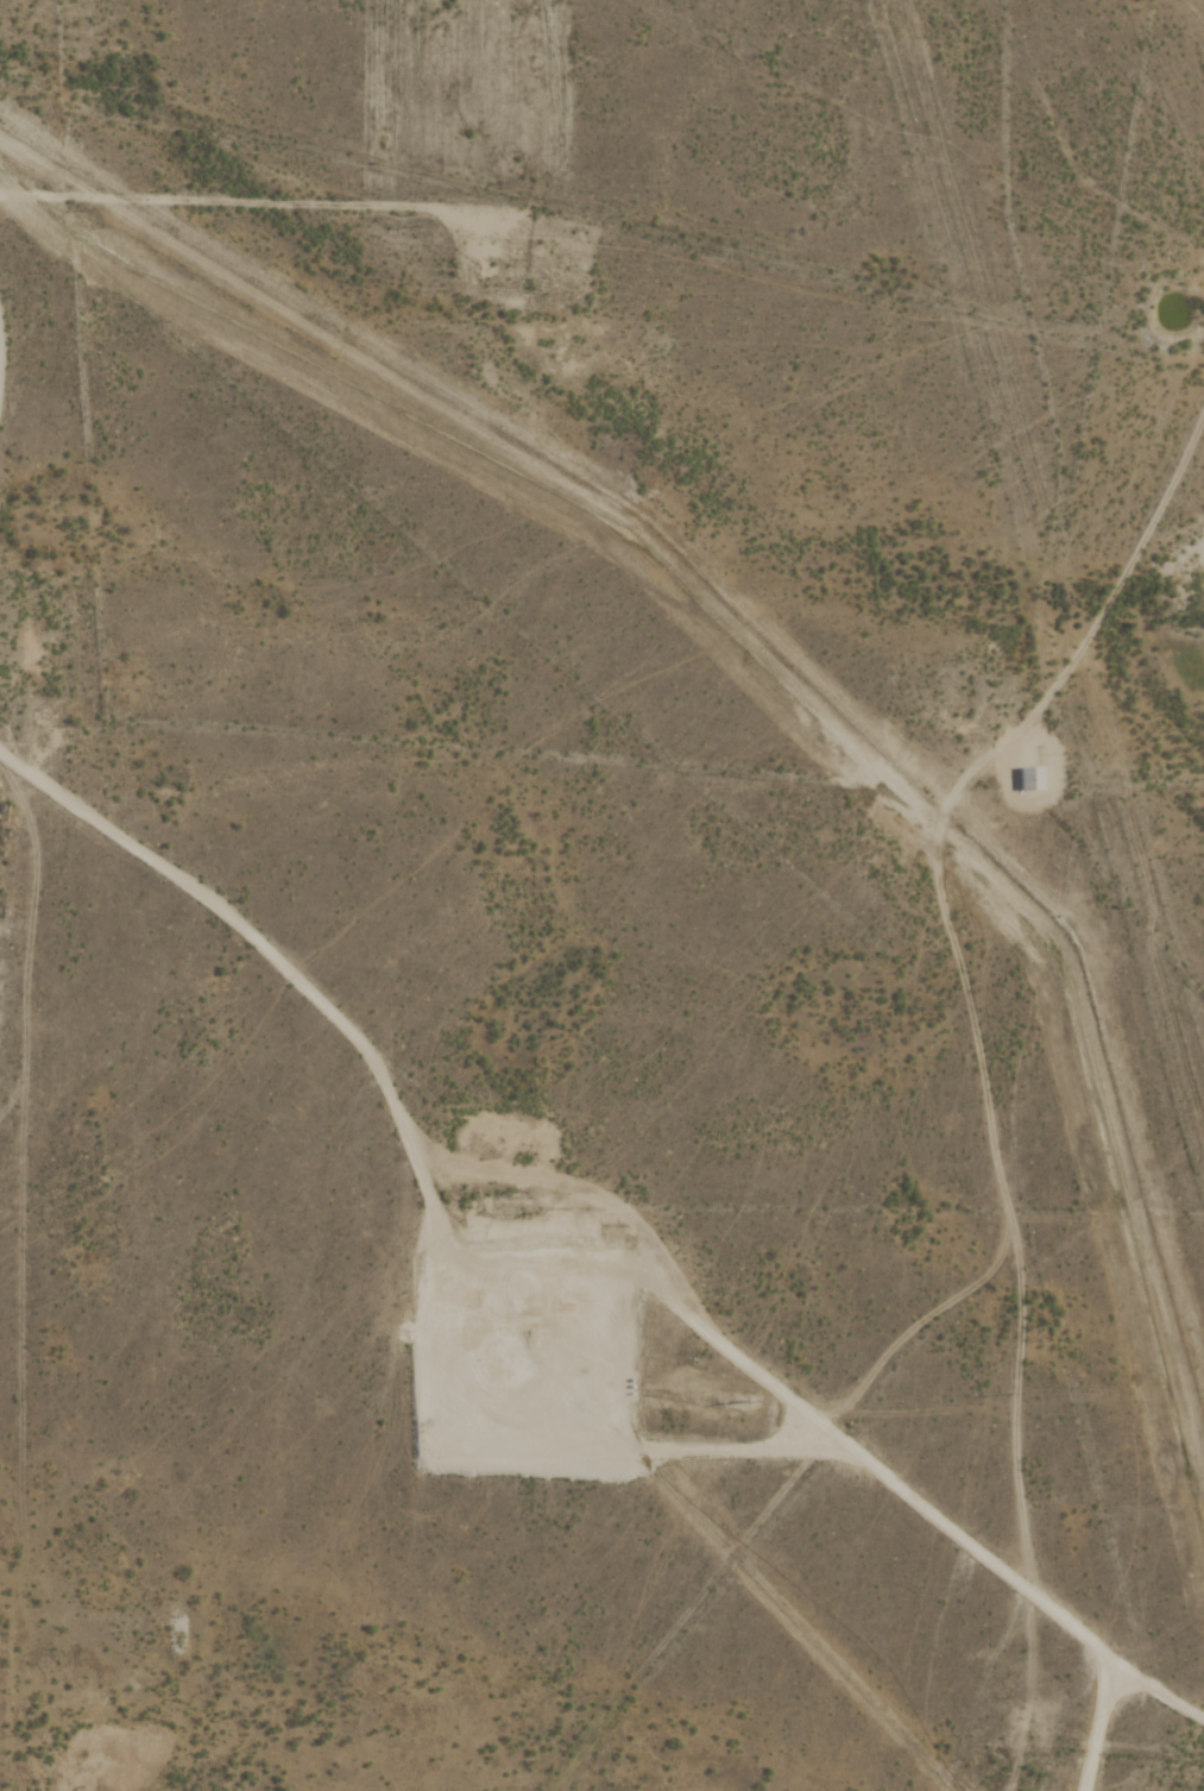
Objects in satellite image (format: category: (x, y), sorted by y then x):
road: (1092, 112)
road: (1029, 987)

